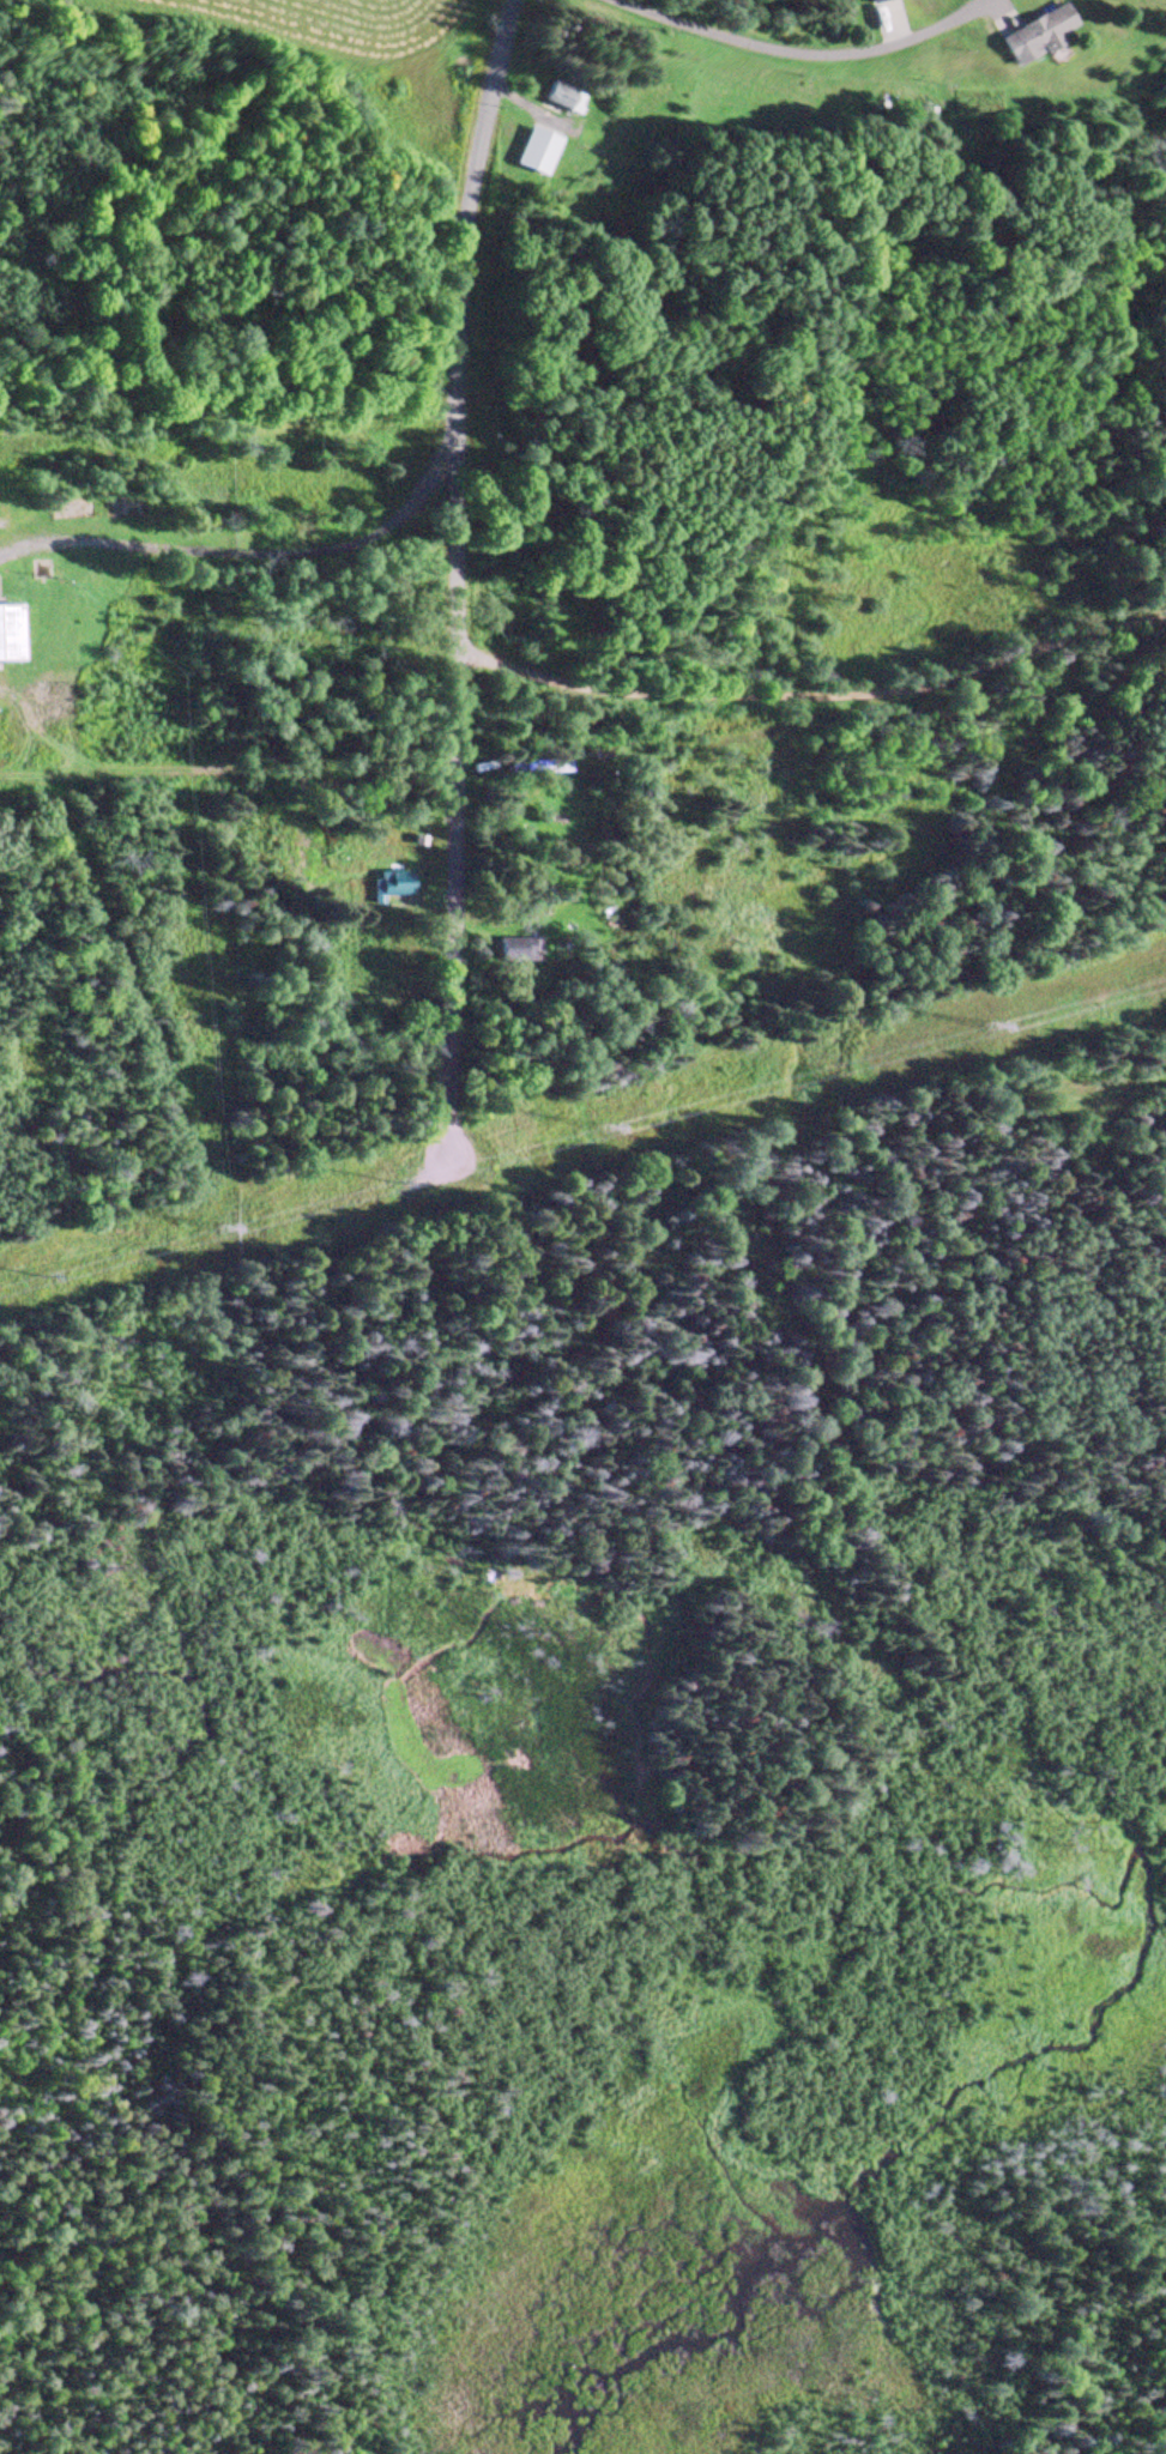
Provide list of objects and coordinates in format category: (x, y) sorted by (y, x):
building: (875, 1)
building: (1034, 37)
building: (560, 98)
building: (533, 153)
road: (244, 318)
road: (454, 572)
building: (8, 635)
building: (520, 770)
building: (395, 882)
building: (519, 950)
power tower: (989, 1023)
power tower: (603, 1130)
power tower: (224, 1226)

